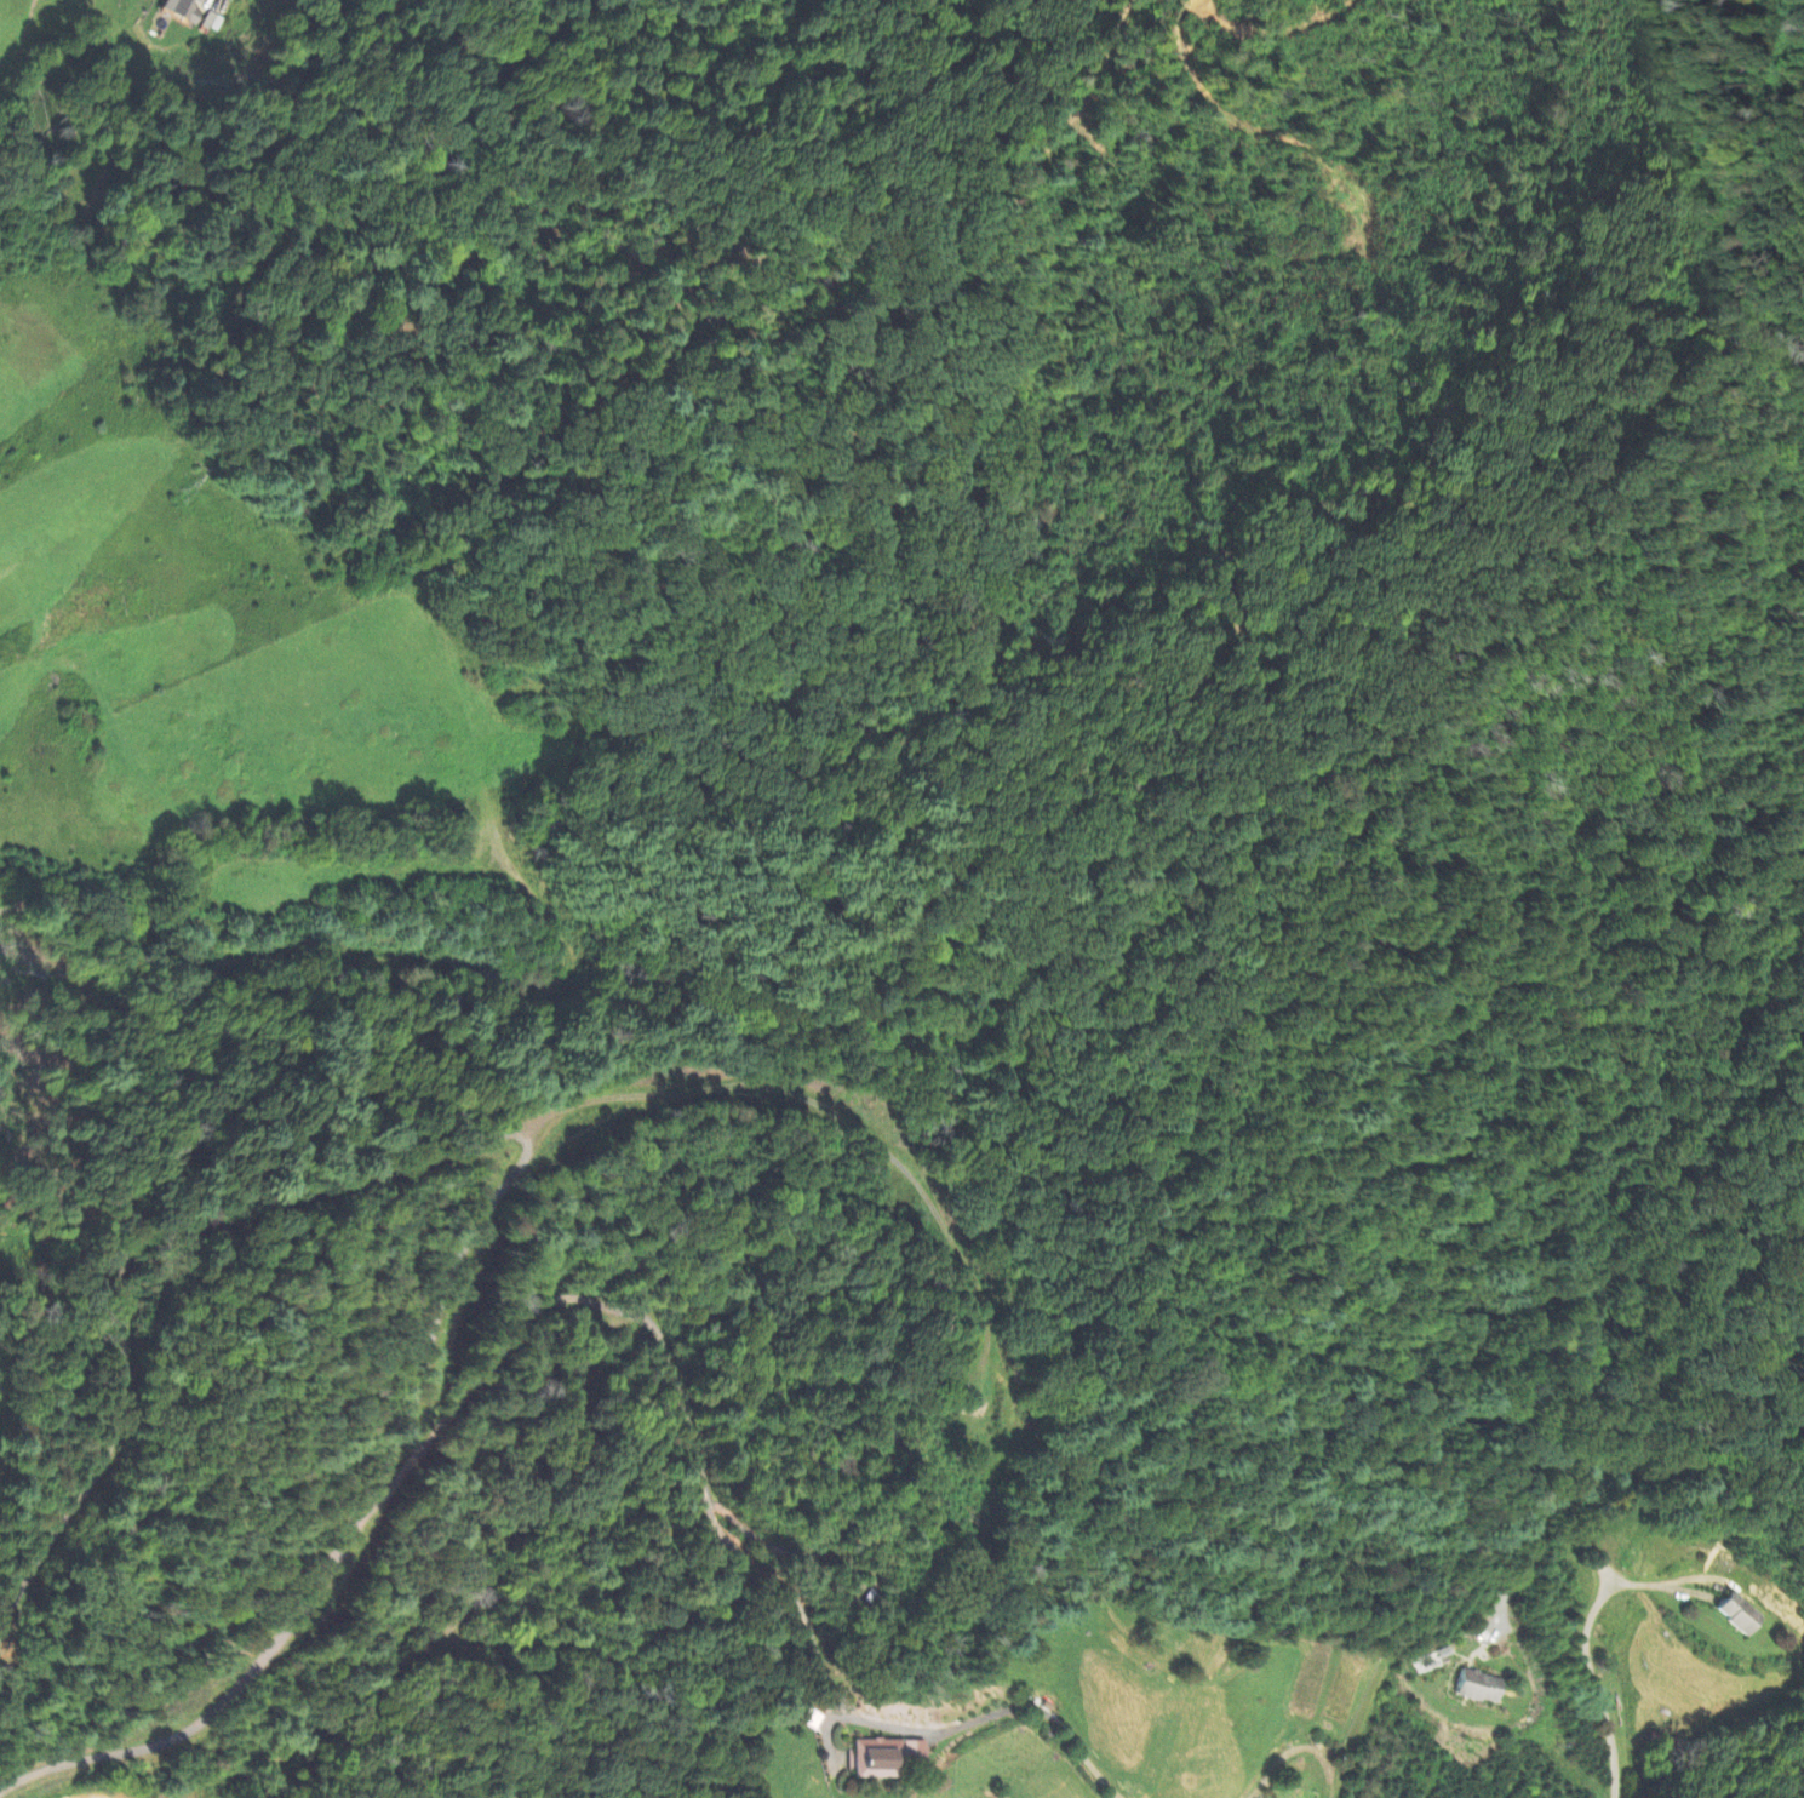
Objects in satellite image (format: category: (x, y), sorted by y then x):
building: (182, 11)
building: (213, 22)
road: (468, 1242)
road: (132, 1250)
road: (568, 1433)
road: (710, 1521)
road: (778, 1551)
road: (1646, 1586)
road: (1599, 1591)
building: (1741, 1615)
building: (1478, 1689)
road: (1047, 1717)
road: (1298, 1748)
building: (883, 1758)

